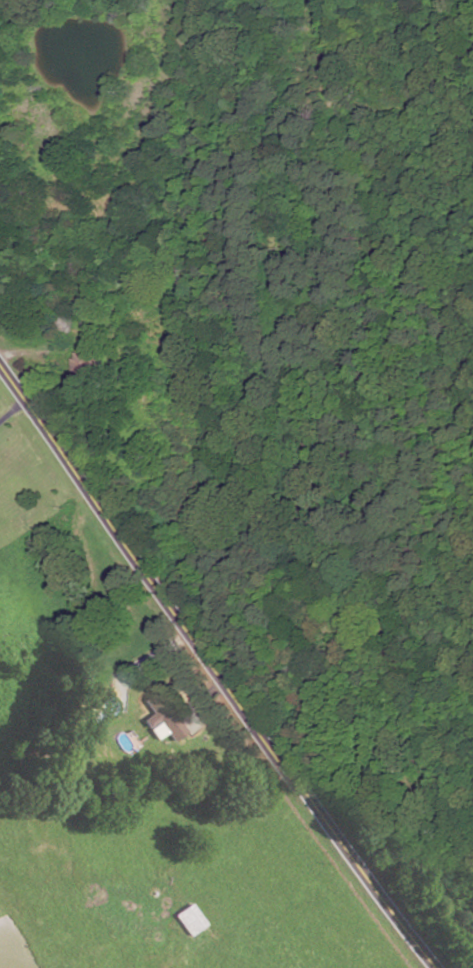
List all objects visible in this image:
road: (35, 353)
building: (86, 365)
road: (12, 411)
road: (216, 666)
building: (164, 715)
building: (155, 730)
building: (188, 920)

